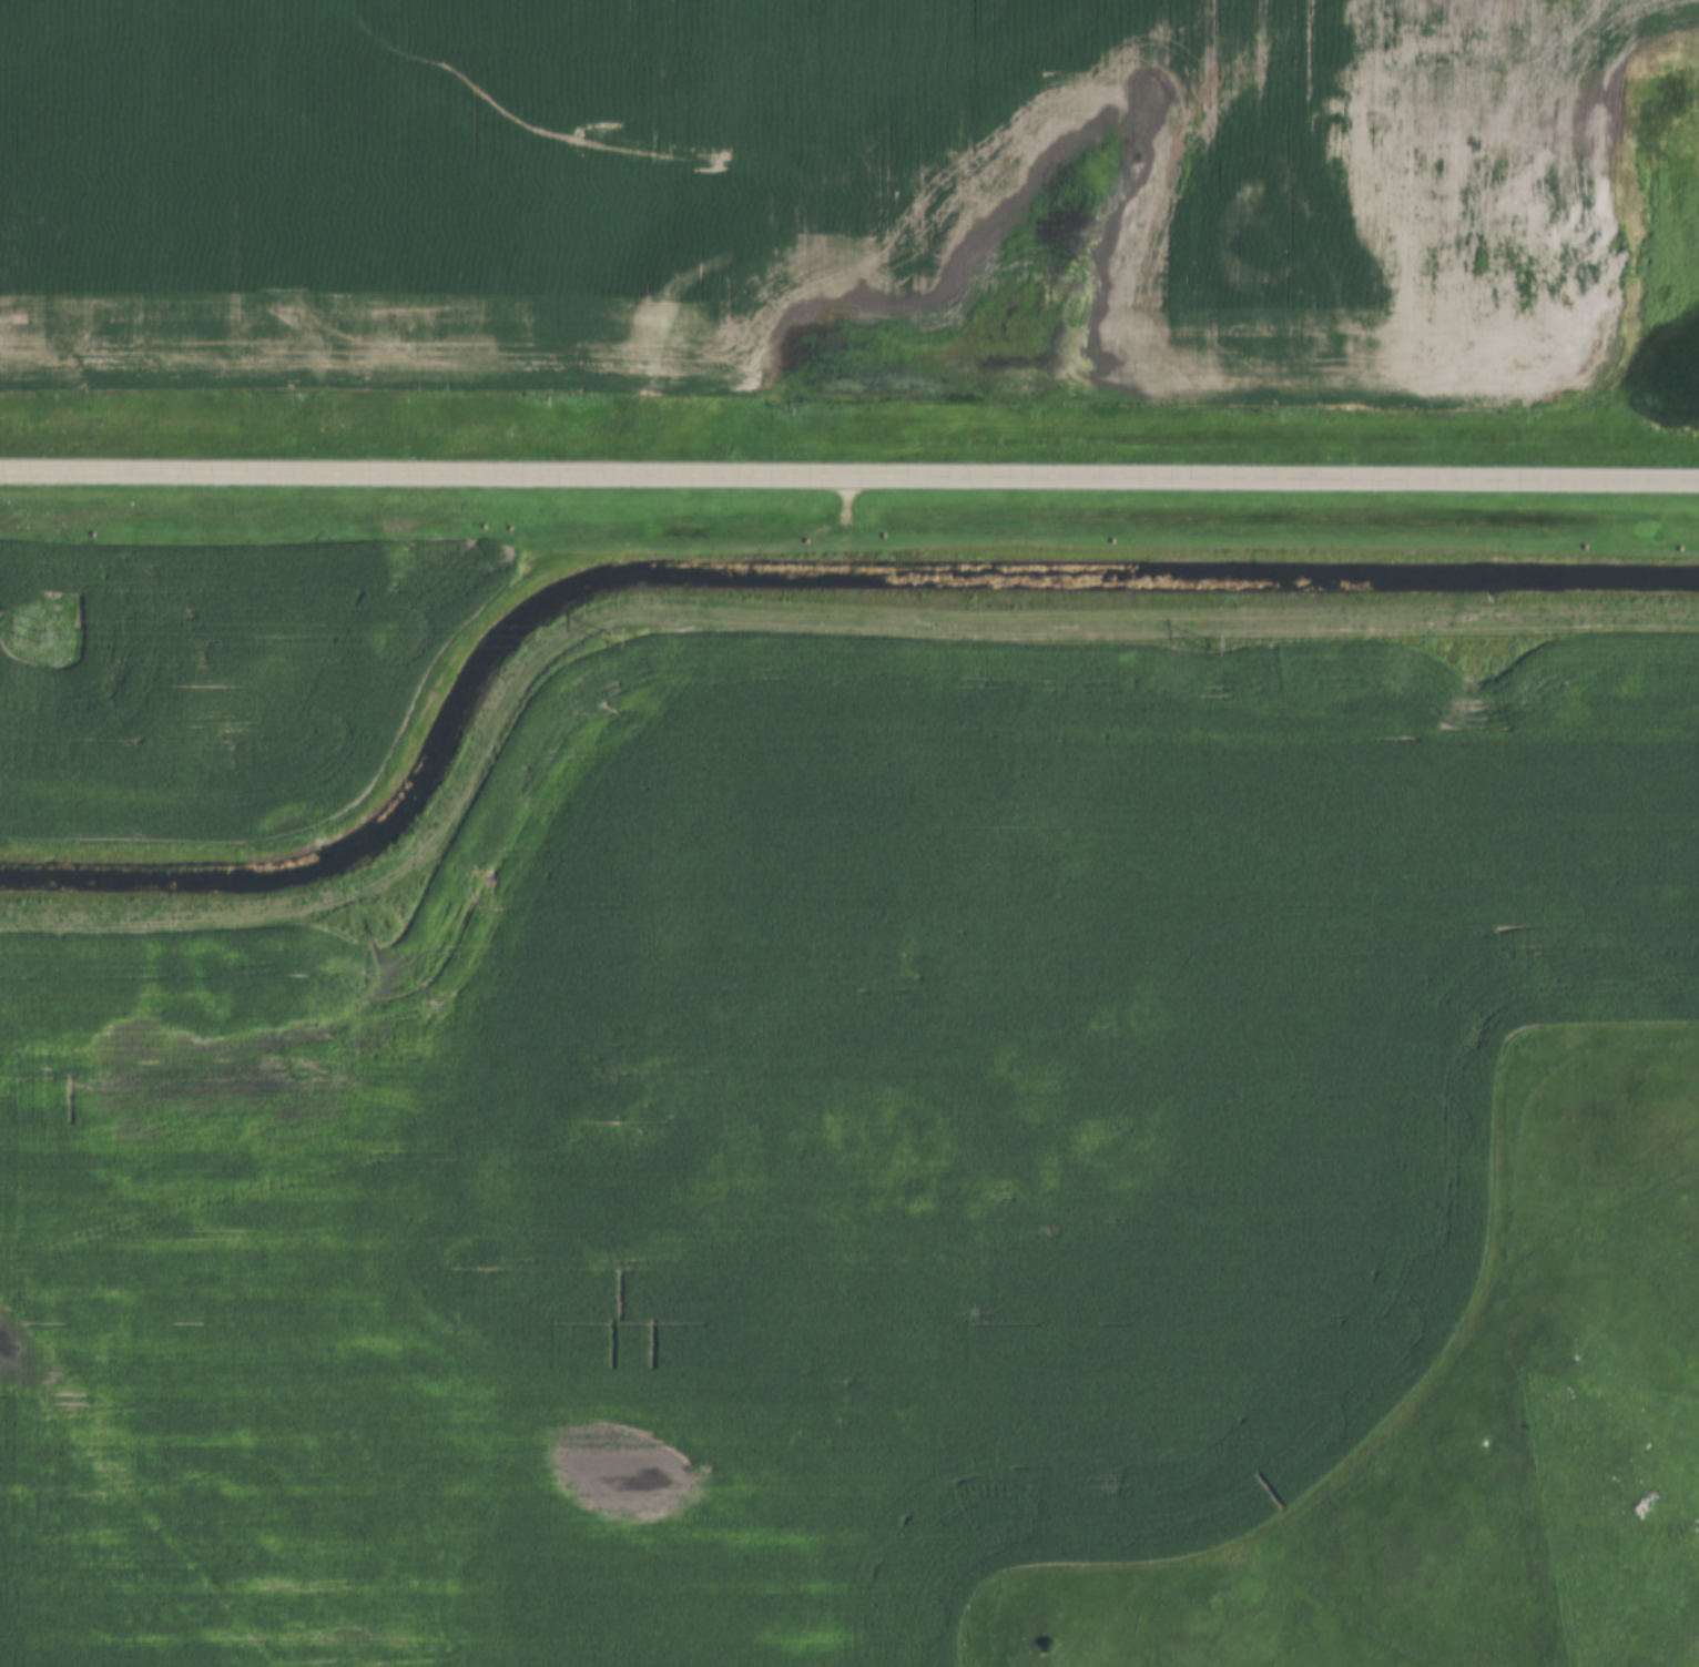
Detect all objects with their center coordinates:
road: (849, 477)
power tower: (44, 634)
power tower: (613, 638)
power tower: (1203, 643)

